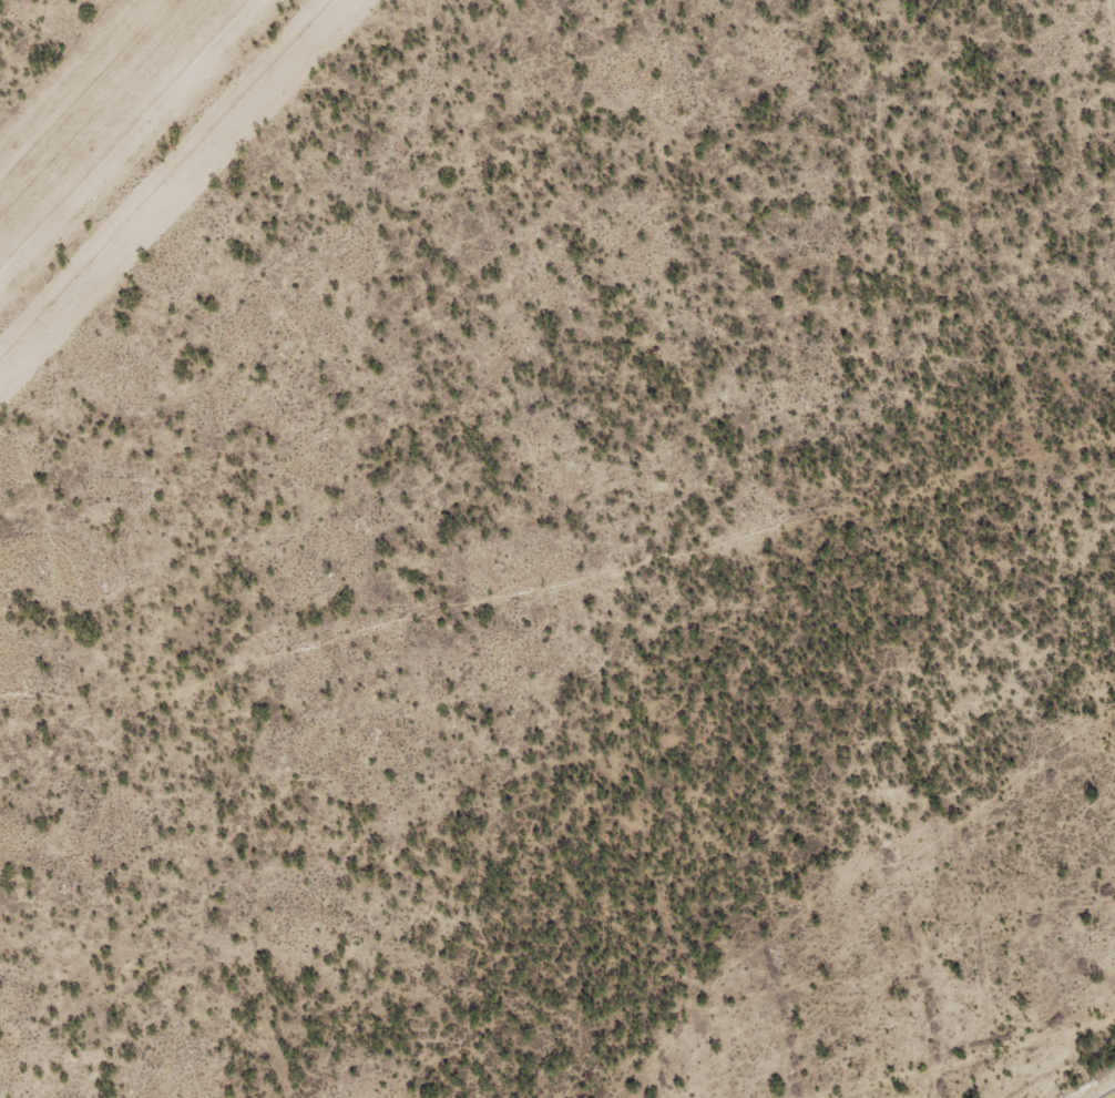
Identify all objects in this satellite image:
road: (1107, 1094)

